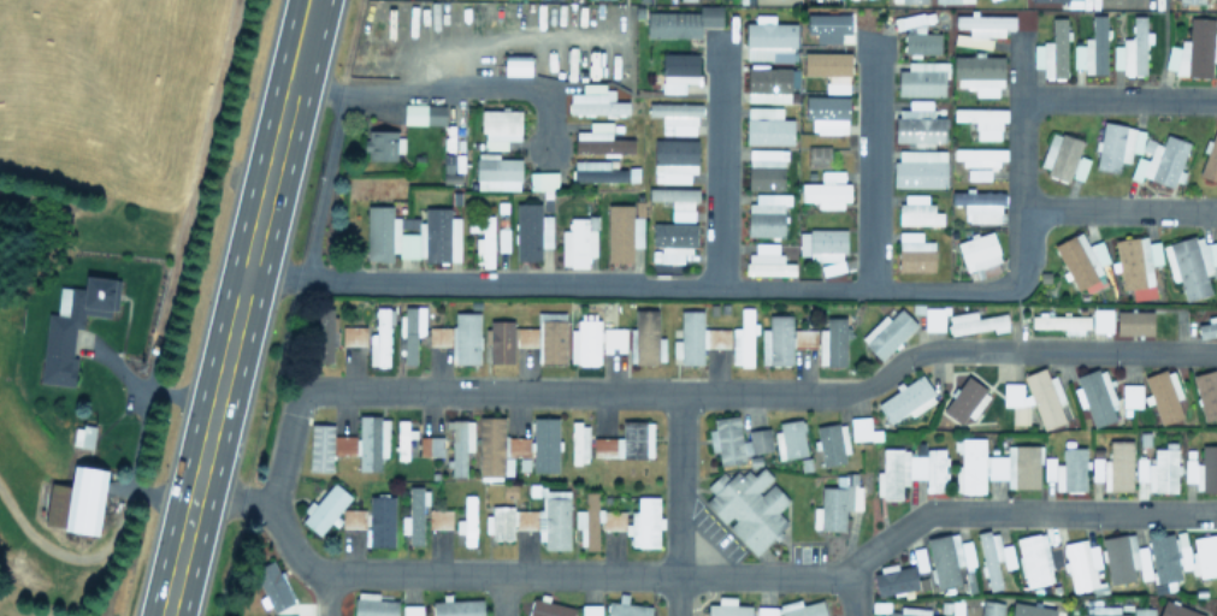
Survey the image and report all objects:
building: (1191, 1)
building: (681, 22)
building: (980, 29)
building: (916, 35)
building: (769, 41)
building: (1092, 48)
building: (1132, 48)
road: (1164, 49)
building: (1194, 49)
building: (1052, 51)
building: (516, 65)
building: (828, 69)
building: (678, 71)
building: (979, 73)
building: (922, 78)
building: (769, 83)
road: (445, 88)
road: (1118, 99)
building: (596, 101)
building: (826, 112)
building: (423, 113)
building: (675, 115)
building: (981, 120)
building: (918, 123)
building: (767, 126)
building: (500, 128)
building: (601, 140)
building: (383, 144)
building: (1117, 144)
building: (819, 155)
building: (979, 155)
building: (1063, 156)
building: (674, 160)
building: (1160, 161)
road: (1020, 162)
road: (720, 165)
road: (872, 167)
building: (766, 168)
building: (918, 168)
building: (596, 171)
building: (496, 172)
building: (542, 179)
road: (324, 185)
building: (827, 189)
building: (677, 200)
building: (979, 205)
building: (917, 211)
road: (1118, 211)
building: (766, 214)
building: (531, 231)
building: (621, 232)
building: (412, 235)
building: (673, 239)
building: (578, 241)
building: (484, 242)
building: (821, 244)
building: (914, 251)
building: (979, 255)
building: (767, 260)
building: (1081, 261)
building: (1136, 265)
building: (1191, 265)
road: (483, 285)
road: (864, 290)
road: (237, 308)
road: (1016, 316)
building: (1100, 320)
building: (974, 322)
building: (1061, 322)
building: (1133, 322)
building: (71, 326)
building: (1207, 327)
building: (409, 331)
building: (887, 332)
building: (324, 334)
building: (353, 336)
building: (379, 337)
building: (646, 337)
building: (696, 337)
building: (459, 338)
building: (528, 338)
building: (613, 338)
building: (804, 338)
building: (743, 339)
building: (776, 340)
building: (832, 342)
building: (584, 343)
road: (707, 393)
building: (1206, 393)
building: (1130, 395)
building: (1163, 395)
road: (147, 396)
building: (1094, 396)
building: (1034, 398)
building: (906, 399)
building: (964, 401)
building: (401, 439)
building: (735, 439)
building: (788, 439)
building: (372, 442)
building: (626, 442)
building: (578, 443)
building: (460, 444)
building: (544, 444)
building: (832, 444)
building: (430, 445)
building: (326, 446)
building: (497, 446)
building: (994, 466)
building: (1117, 466)
building: (910, 469)
building: (1158, 469)
building: (1203, 469)
building: (1070, 470)
building: (76, 500)
road: (678, 504)
building: (748, 507)
building: (325, 508)
building: (414, 515)
building: (351, 517)
building: (438, 519)
building: (380, 520)
building: (534, 520)
building: (466, 521)
building: (619, 522)
building: (967, 553)
building: (1182, 555)
building: (993, 557)
building: (1123, 557)
building: (944, 558)
building: (1035, 558)
building: (1081, 565)
road: (695, 577)
building: (894, 579)
road: (852, 593)
road: (324, 596)
road: (501, 597)
building: (373, 605)
building: (457, 608)
building: (549, 608)
building: (626, 608)
building: (727, 608)
building: (802, 608)
building: (991, 608)
building: (410, 610)
building: (1029, 610)
building: (1175, 610)
building: (764, 611)
building: (909, 611)
building: (1100, 611)
building: (1142, 611)
building: (286, 615)

